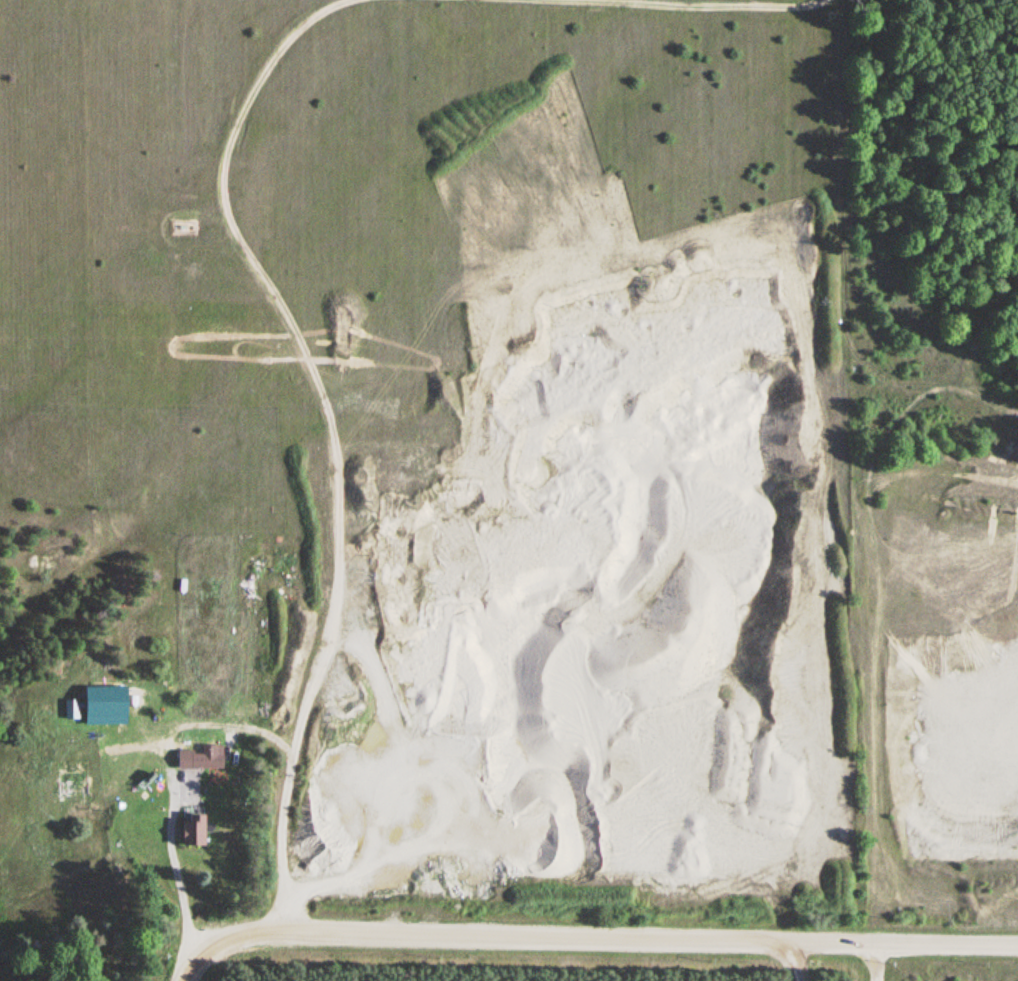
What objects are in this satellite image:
road: (672, 6)
road: (323, 433)
quarry: (936, 461)
quarry: (564, 466)
building: (96, 733)
building: (72, 736)
building: (201, 761)
building: (74, 777)
building: (194, 829)
road: (587, 936)
road: (873, 960)
quarry: (588, 972)

